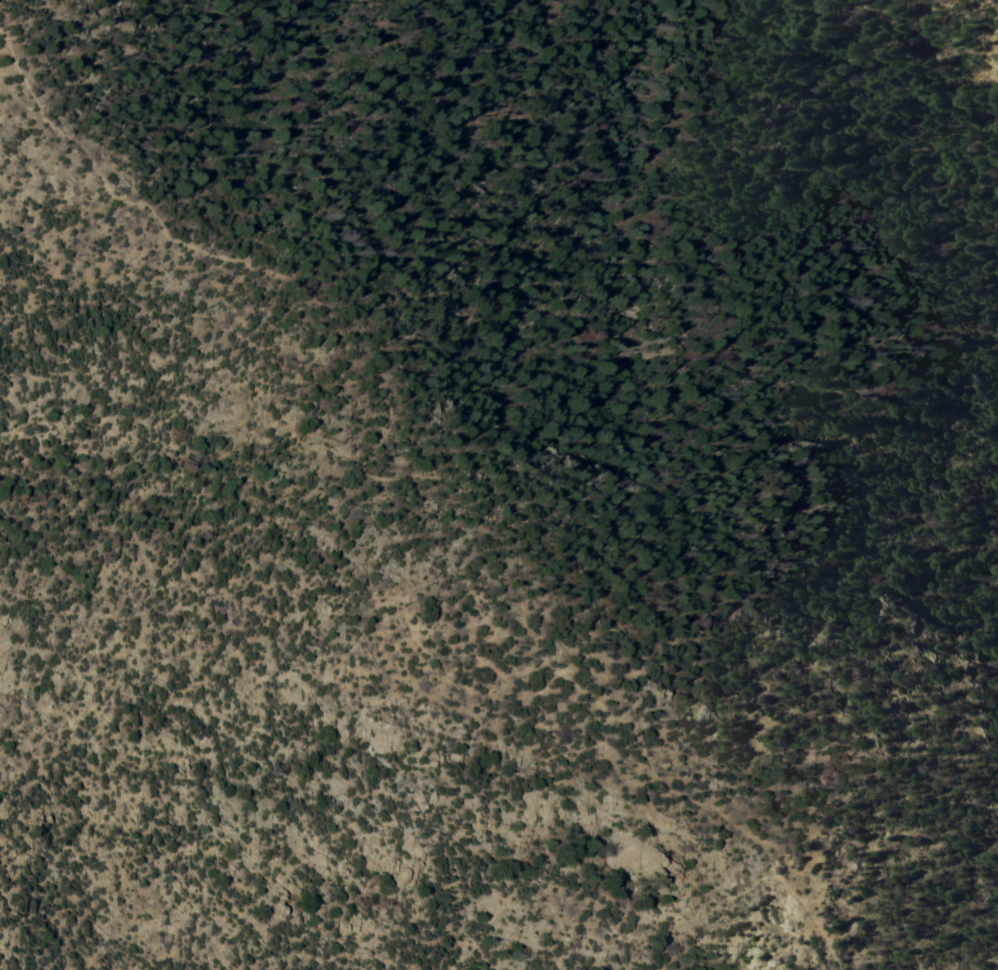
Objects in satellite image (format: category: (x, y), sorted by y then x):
road: (178, 234)

